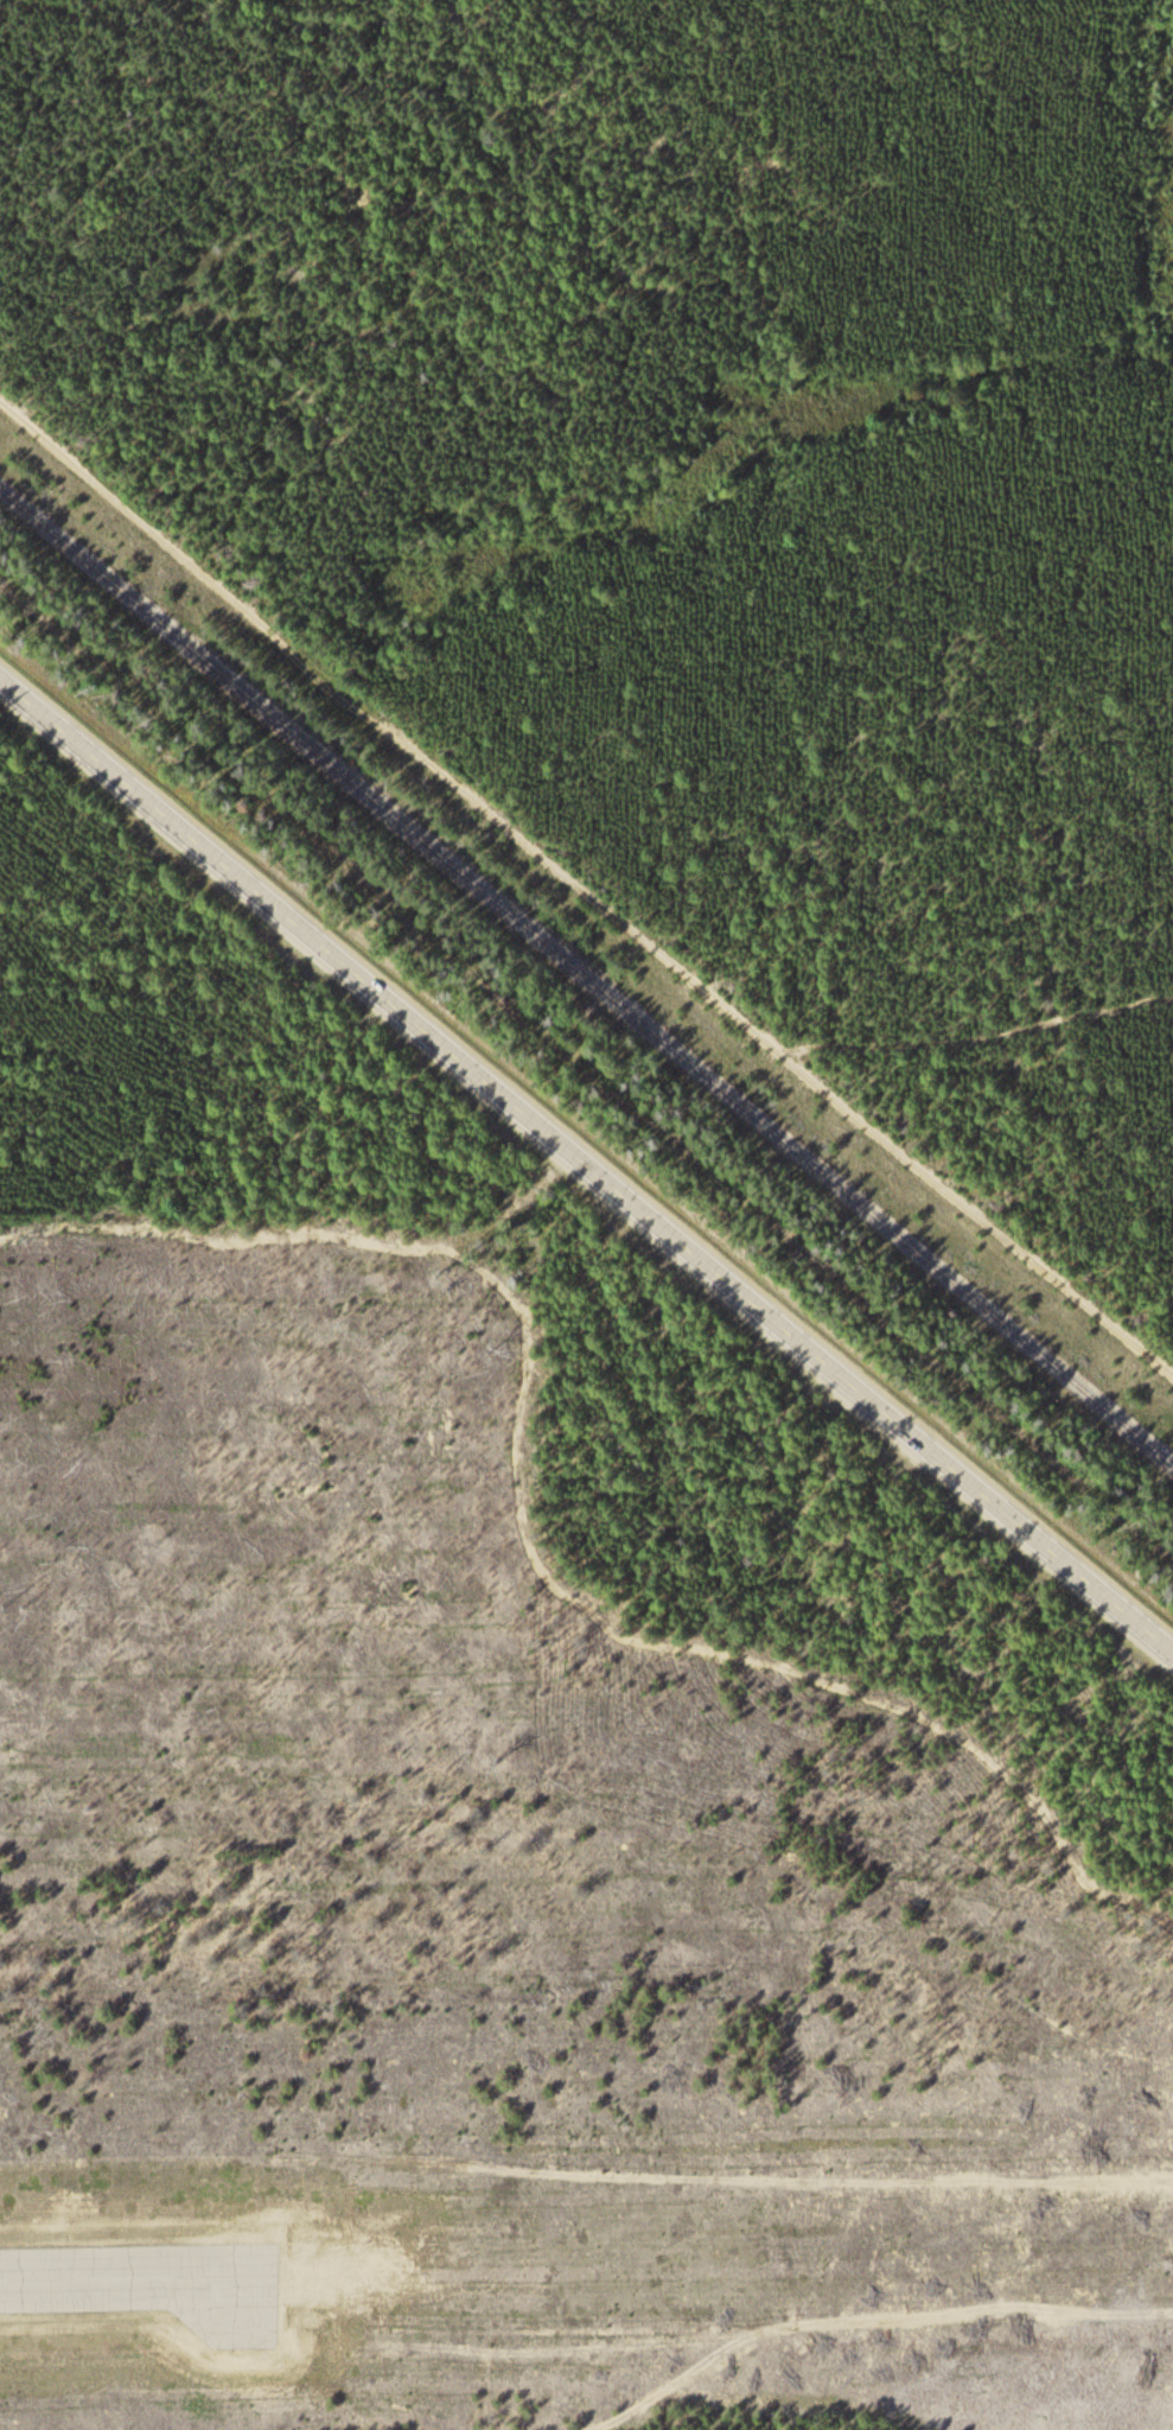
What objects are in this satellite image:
road: (584, 888)
railway: (581, 1005)
road: (977, 1035)
road: (586, 1156)
road: (536, 1521)
airport runway: (140, 2273)
road: (850, 2323)
road: (585, 2326)
road: (376, 2428)

